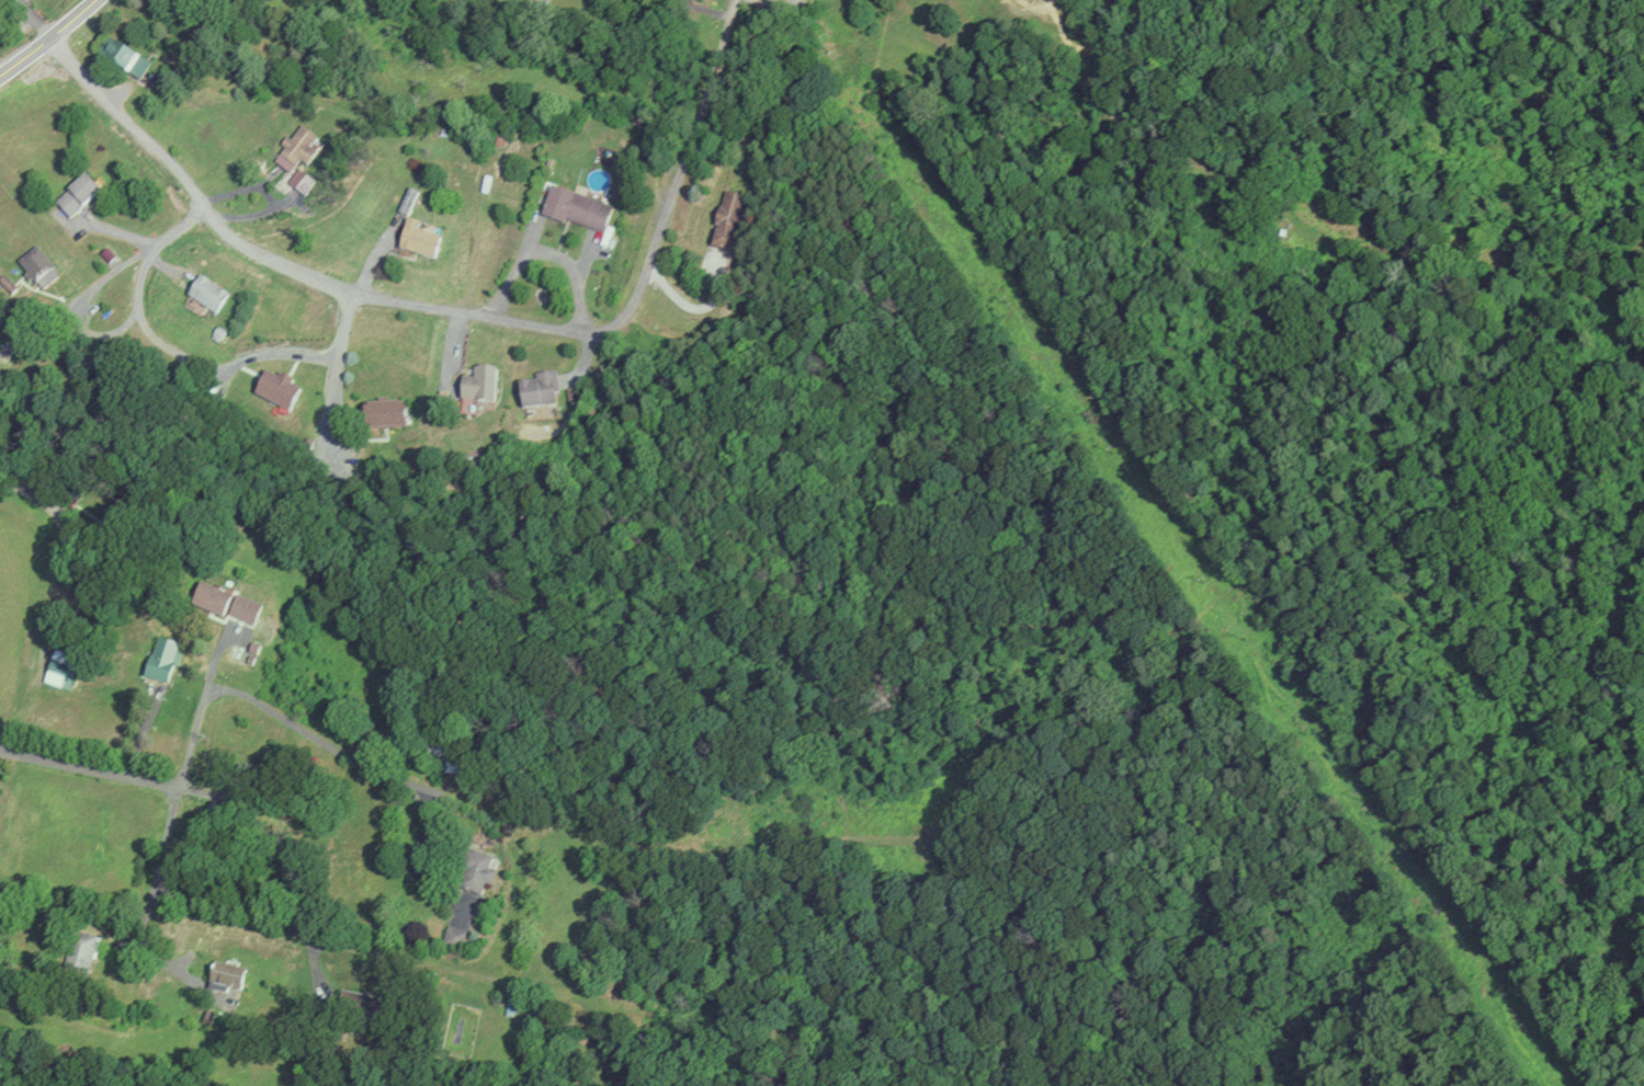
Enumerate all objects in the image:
building: (692, 0)
road: (49, 39)
building: (122, 60)
road: (691, 140)
building: (76, 196)
building: (575, 209)
building: (726, 219)
building: (418, 240)
road: (315, 276)
building: (204, 296)
building: (478, 384)
building: (275, 388)
building: (538, 389)
building: (382, 413)
road: (33, 498)
building: (224, 604)
building: (159, 660)
building: (60, 668)
road: (276, 713)
building: (446, 757)
road: (90, 768)
building: (250, 776)
building: (475, 871)
building: (453, 938)
road: (342, 948)
building: (79, 954)
building: (224, 976)

